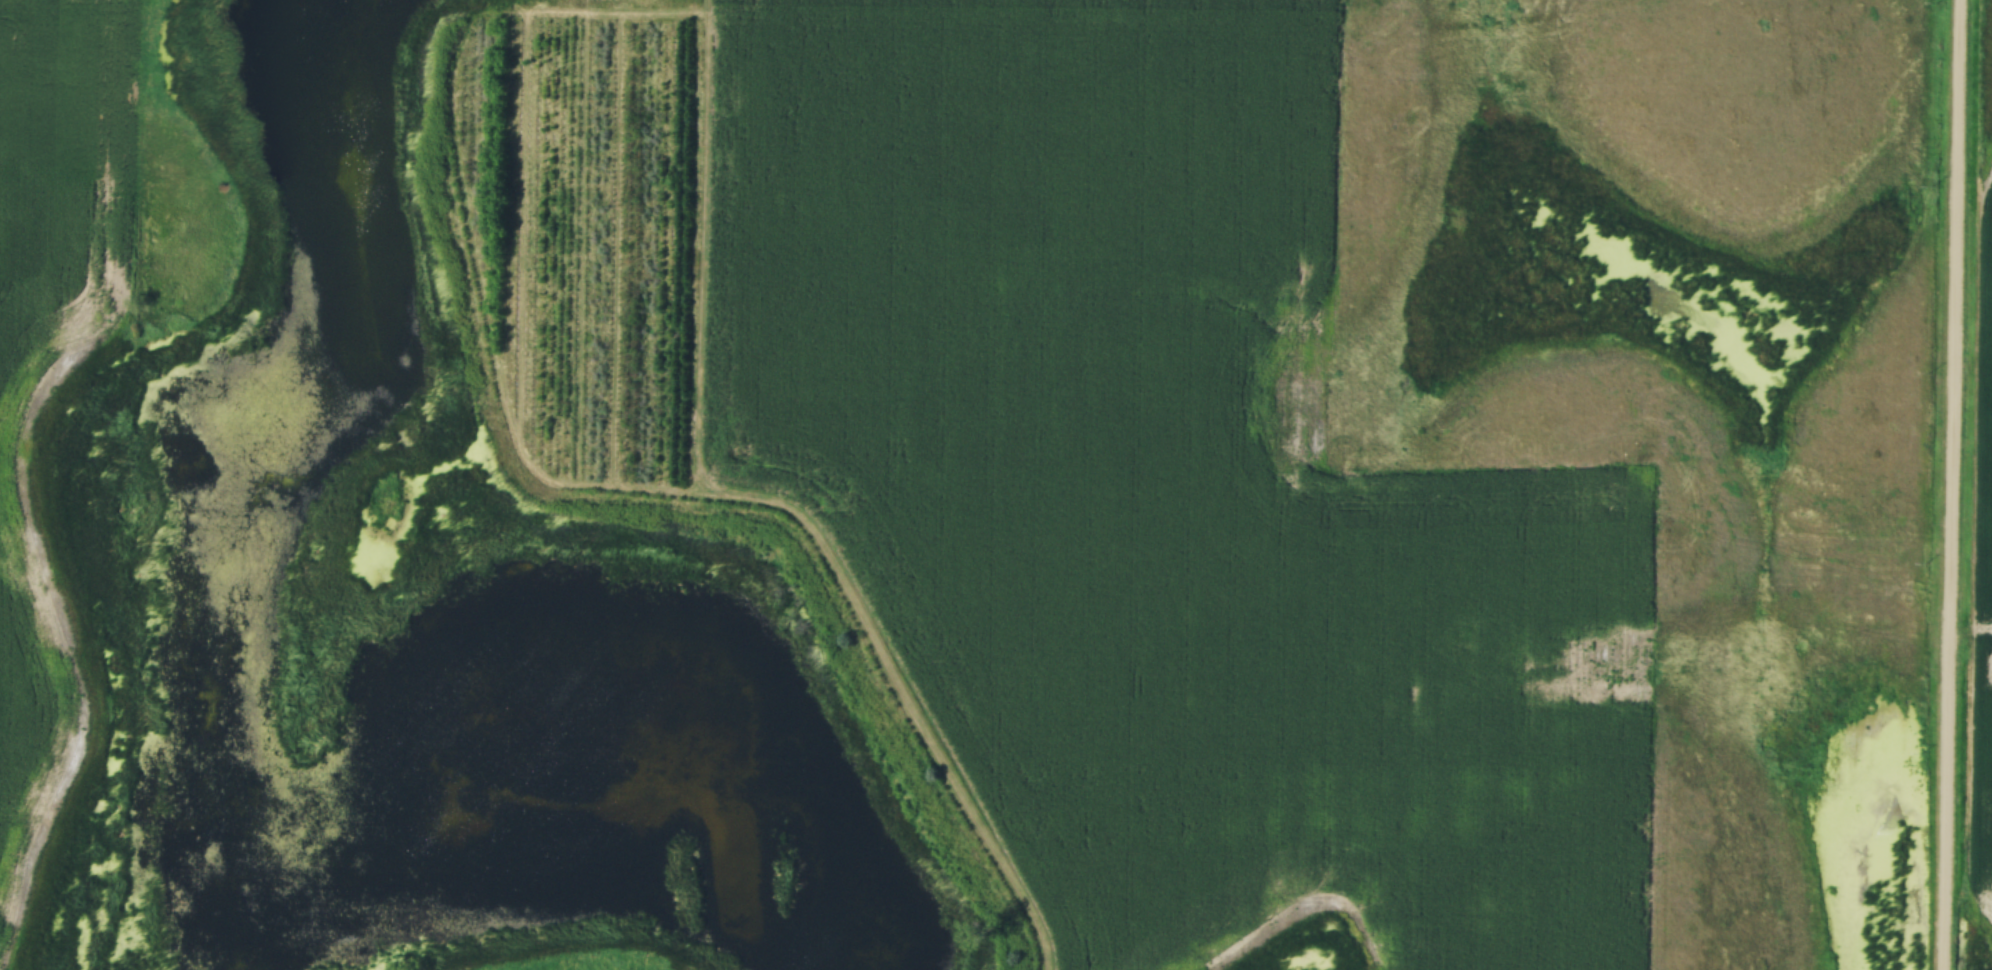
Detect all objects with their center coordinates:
road: (1948, 485)

